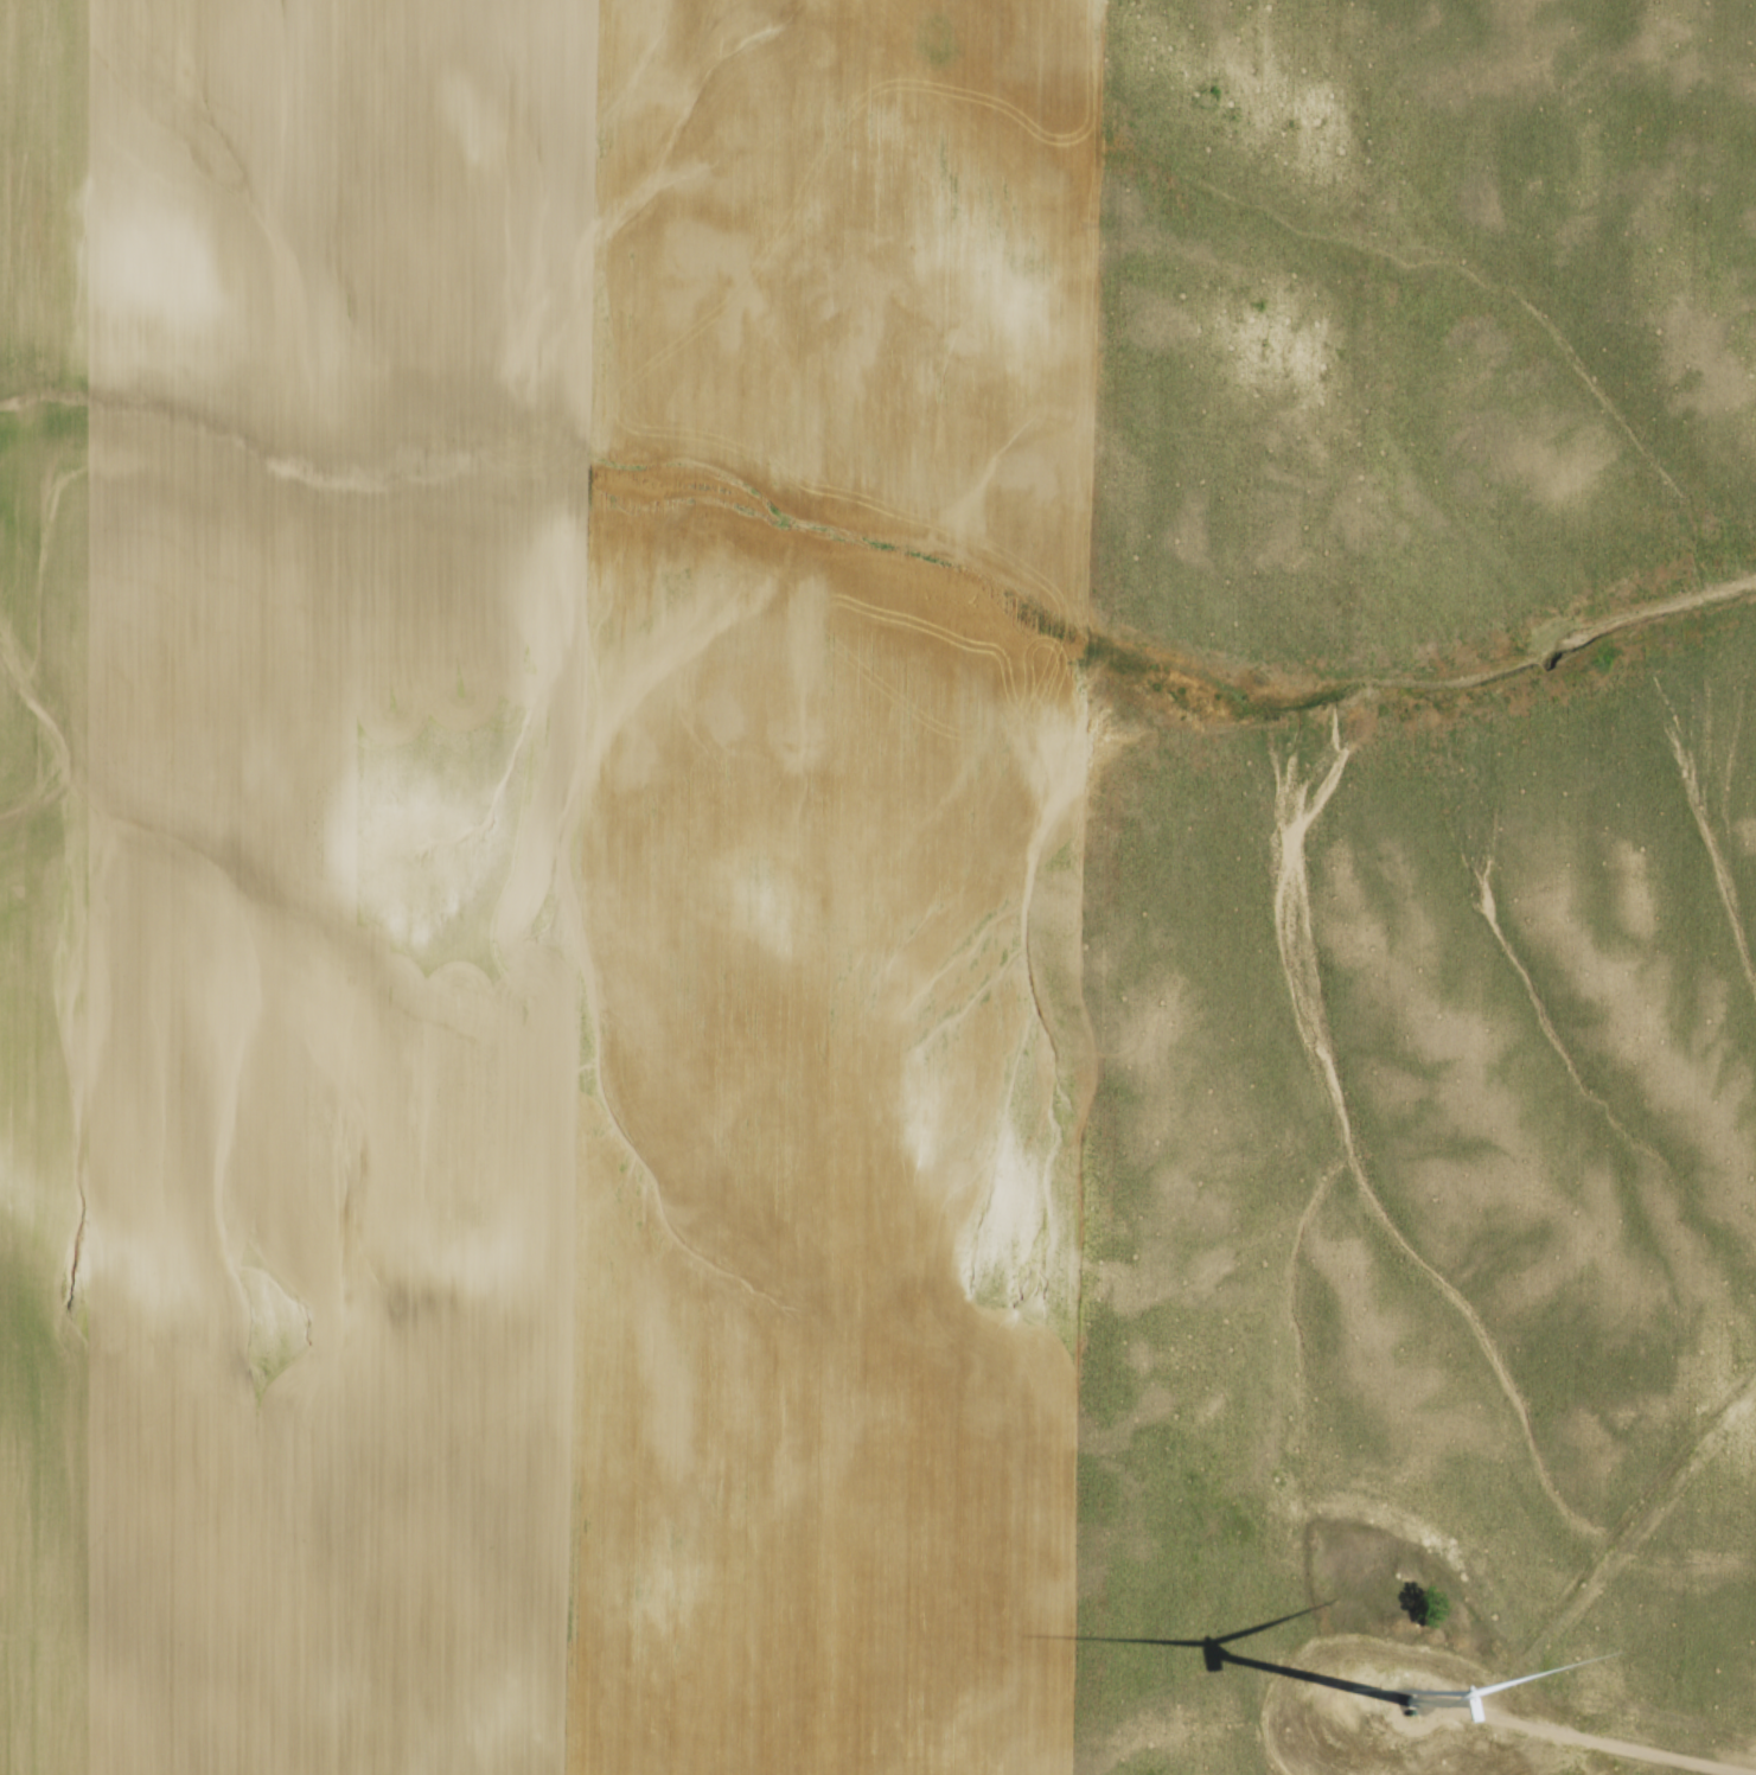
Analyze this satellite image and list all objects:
crop: (538, 883)
wind turbine: (1415, 1697)
road: (1633, 1742)

